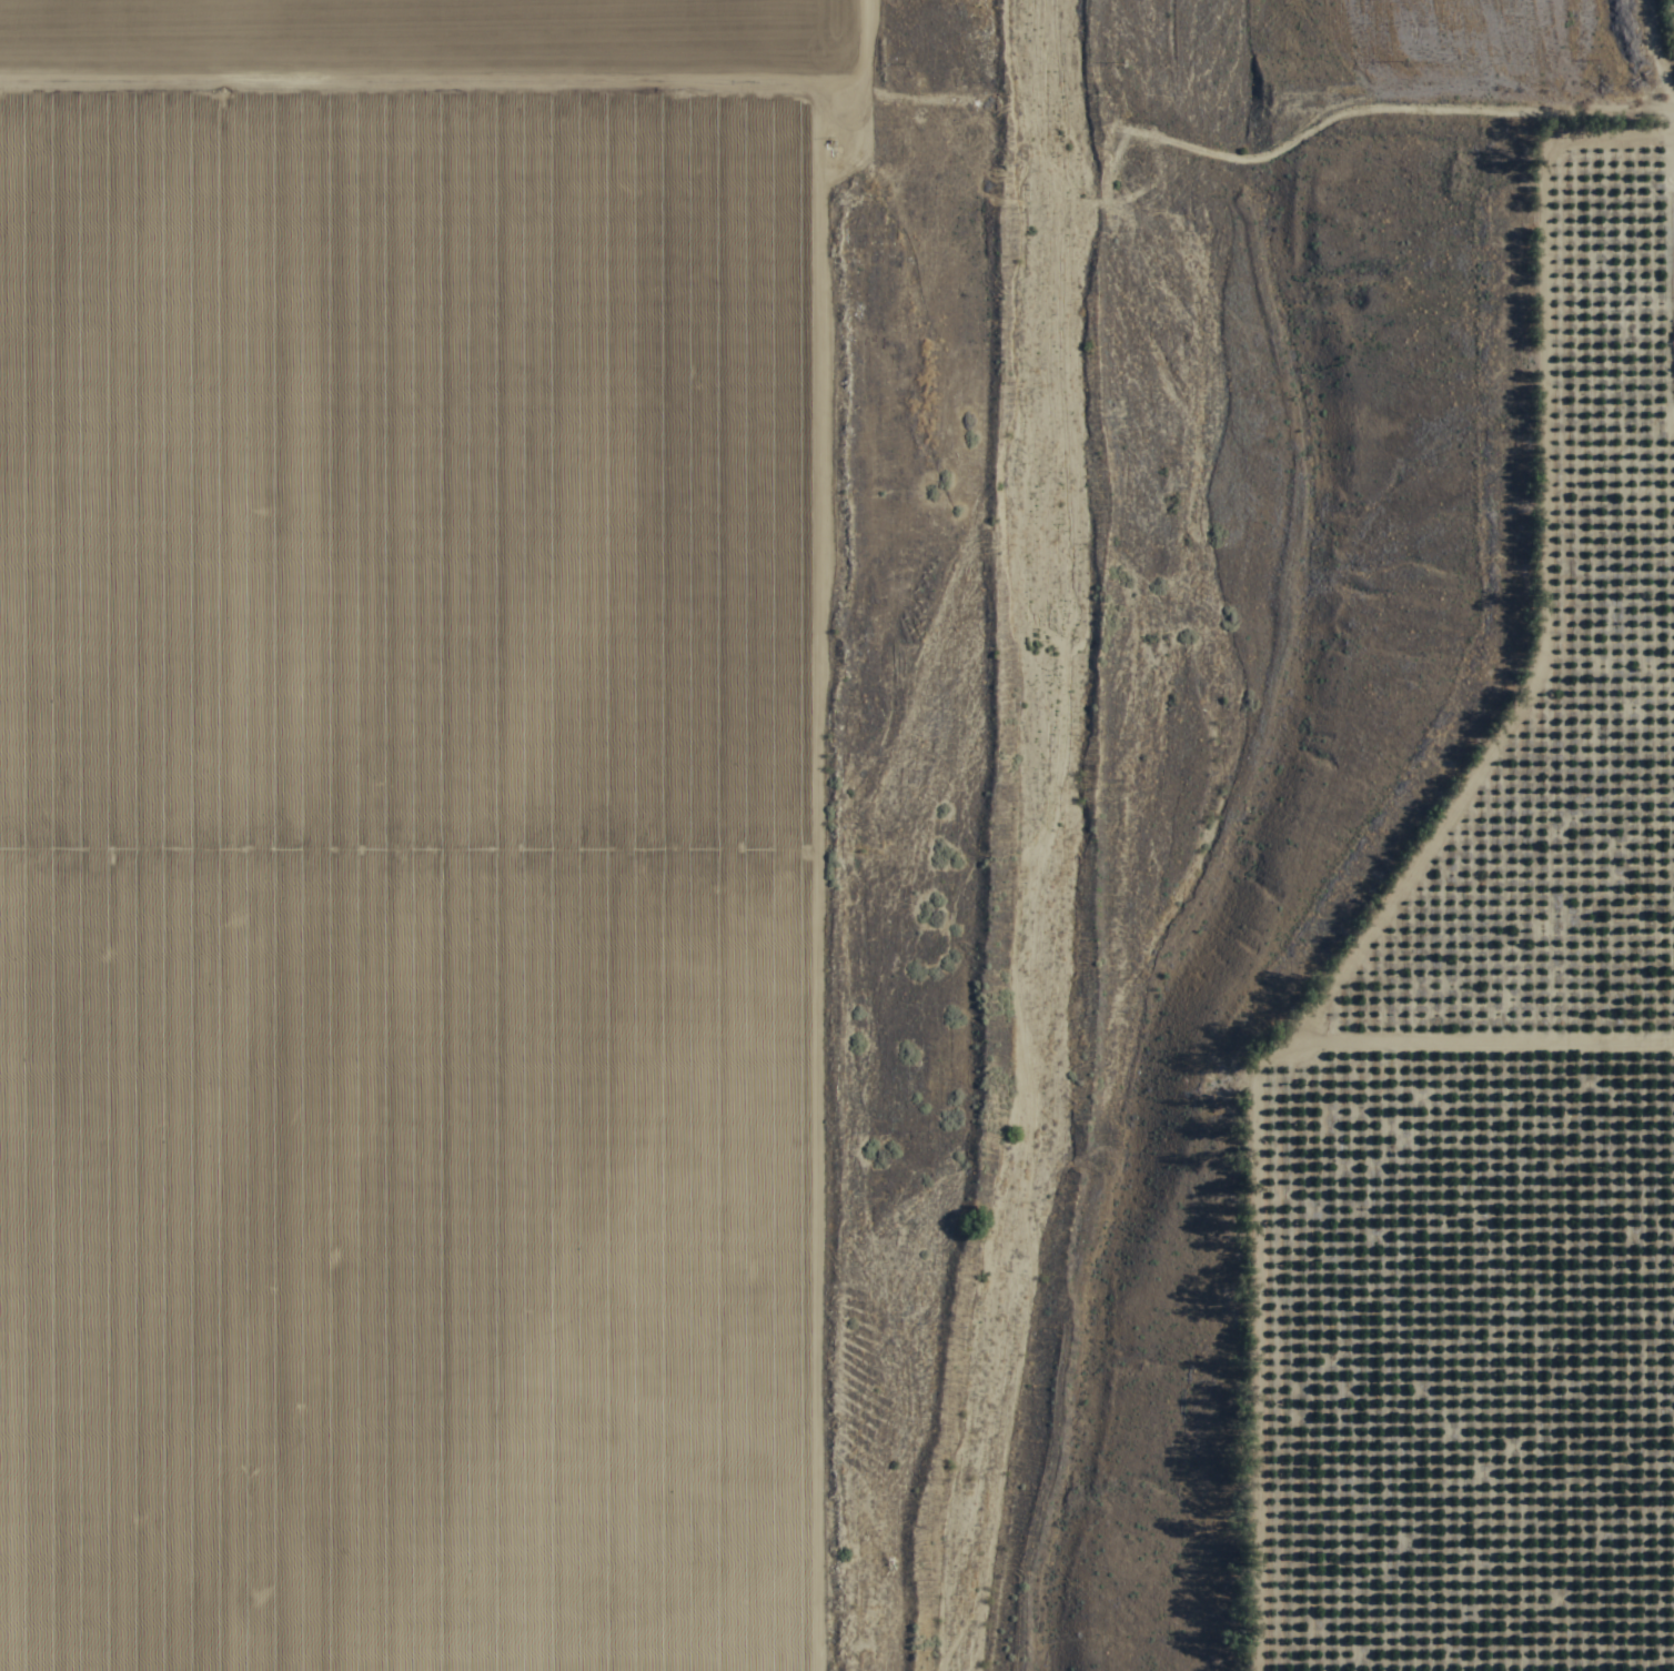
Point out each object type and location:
wastewater plant: (1224, 31)
road: (1643, 51)
road: (826, 107)
road: (1095, 797)
crop: (411, 833)
crop: (1511, 1090)

